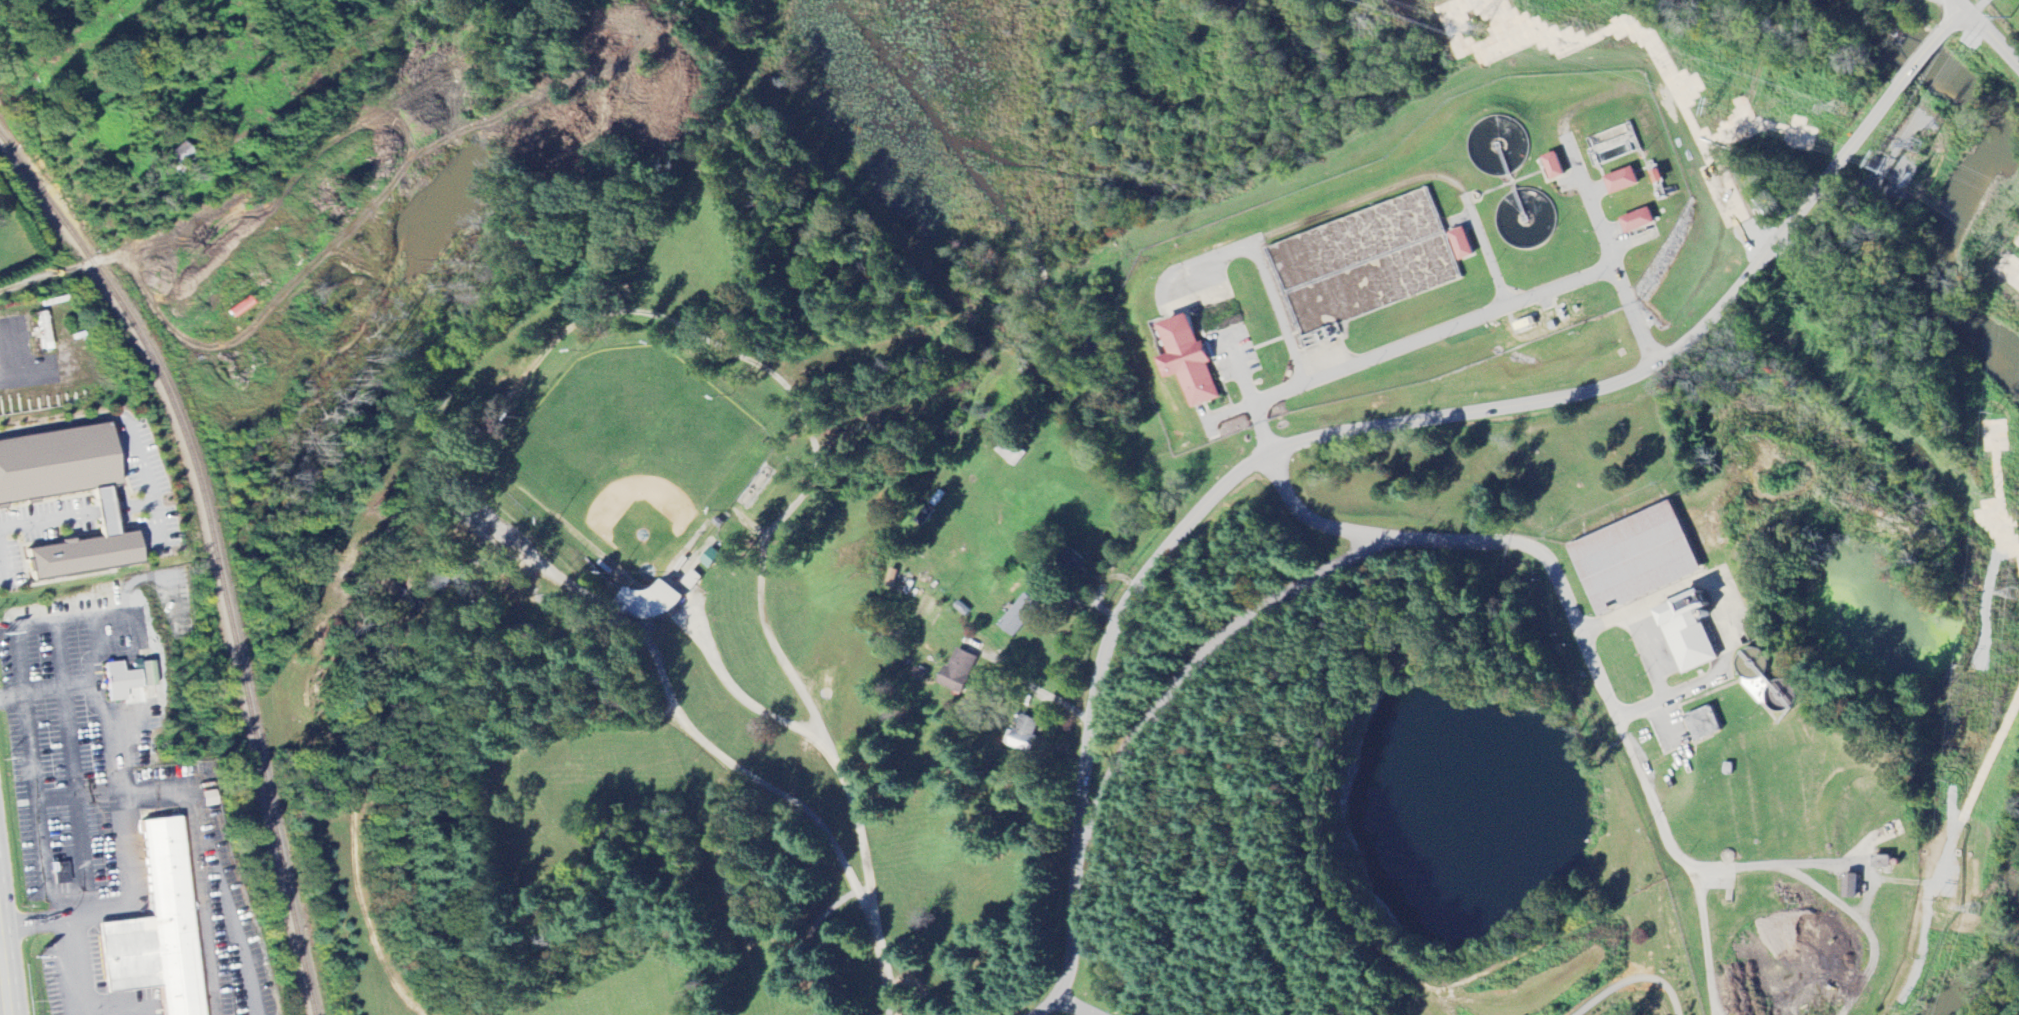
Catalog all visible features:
road: (1958, 6)
road: (1952, 20)
road: (1991, 42)
road: (1917, 59)
power tower: (1836, 109)
wastewater plant: (1500, 145)
power tower: (1910, 146)
building: (1556, 167)
building: (1659, 177)
building: (1625, 182)
wastewater plant: (1528, 218)
building: (1640, 222)
building: (1463, 245)
wastewater plant: (1367, 260)
wastewater plant: (1413, 261)
road: (636, 307)
road: (1456, 326)
wastewater plant: (1193, 358)
building: (1191, 362)
road: (34, 378)
road: (62, 421)
road: (1327, 435)
building: (1011, 452)
park: (631, 460)
road: (145, 479)
building: (23, 497)
road: (99, 508)
road: (1305, 510)
road: (46, 517)
railway: (214, 549)
building: (1637, 556)
building: (460, 579)
power tower: (2011, 594)
building: (655, 601)
park: (632, 612)
building: (1021, 617)
road: (1578, 630)
building: (1693, 633)
road: (1198, 664)
building: (960, 671)
building: (147, 674)
building: (120, 681)
road: (740, 687)
road: (1038, 690)
building: (1705, 725)
building: (1026, 734)
road: (120, 817)
building: (1886, 862)
building: (1852, 886)
road: (1823, 896)
power tower: (1969, 910)
building: (158, 930)
road: (1702, 940)
road: (812, 944)
road: (890, 960)
road: (5, 976)
road: (1635, 979)
park: (1633, 990)
road: (1088, 1002)
park: (1091, 1003)

